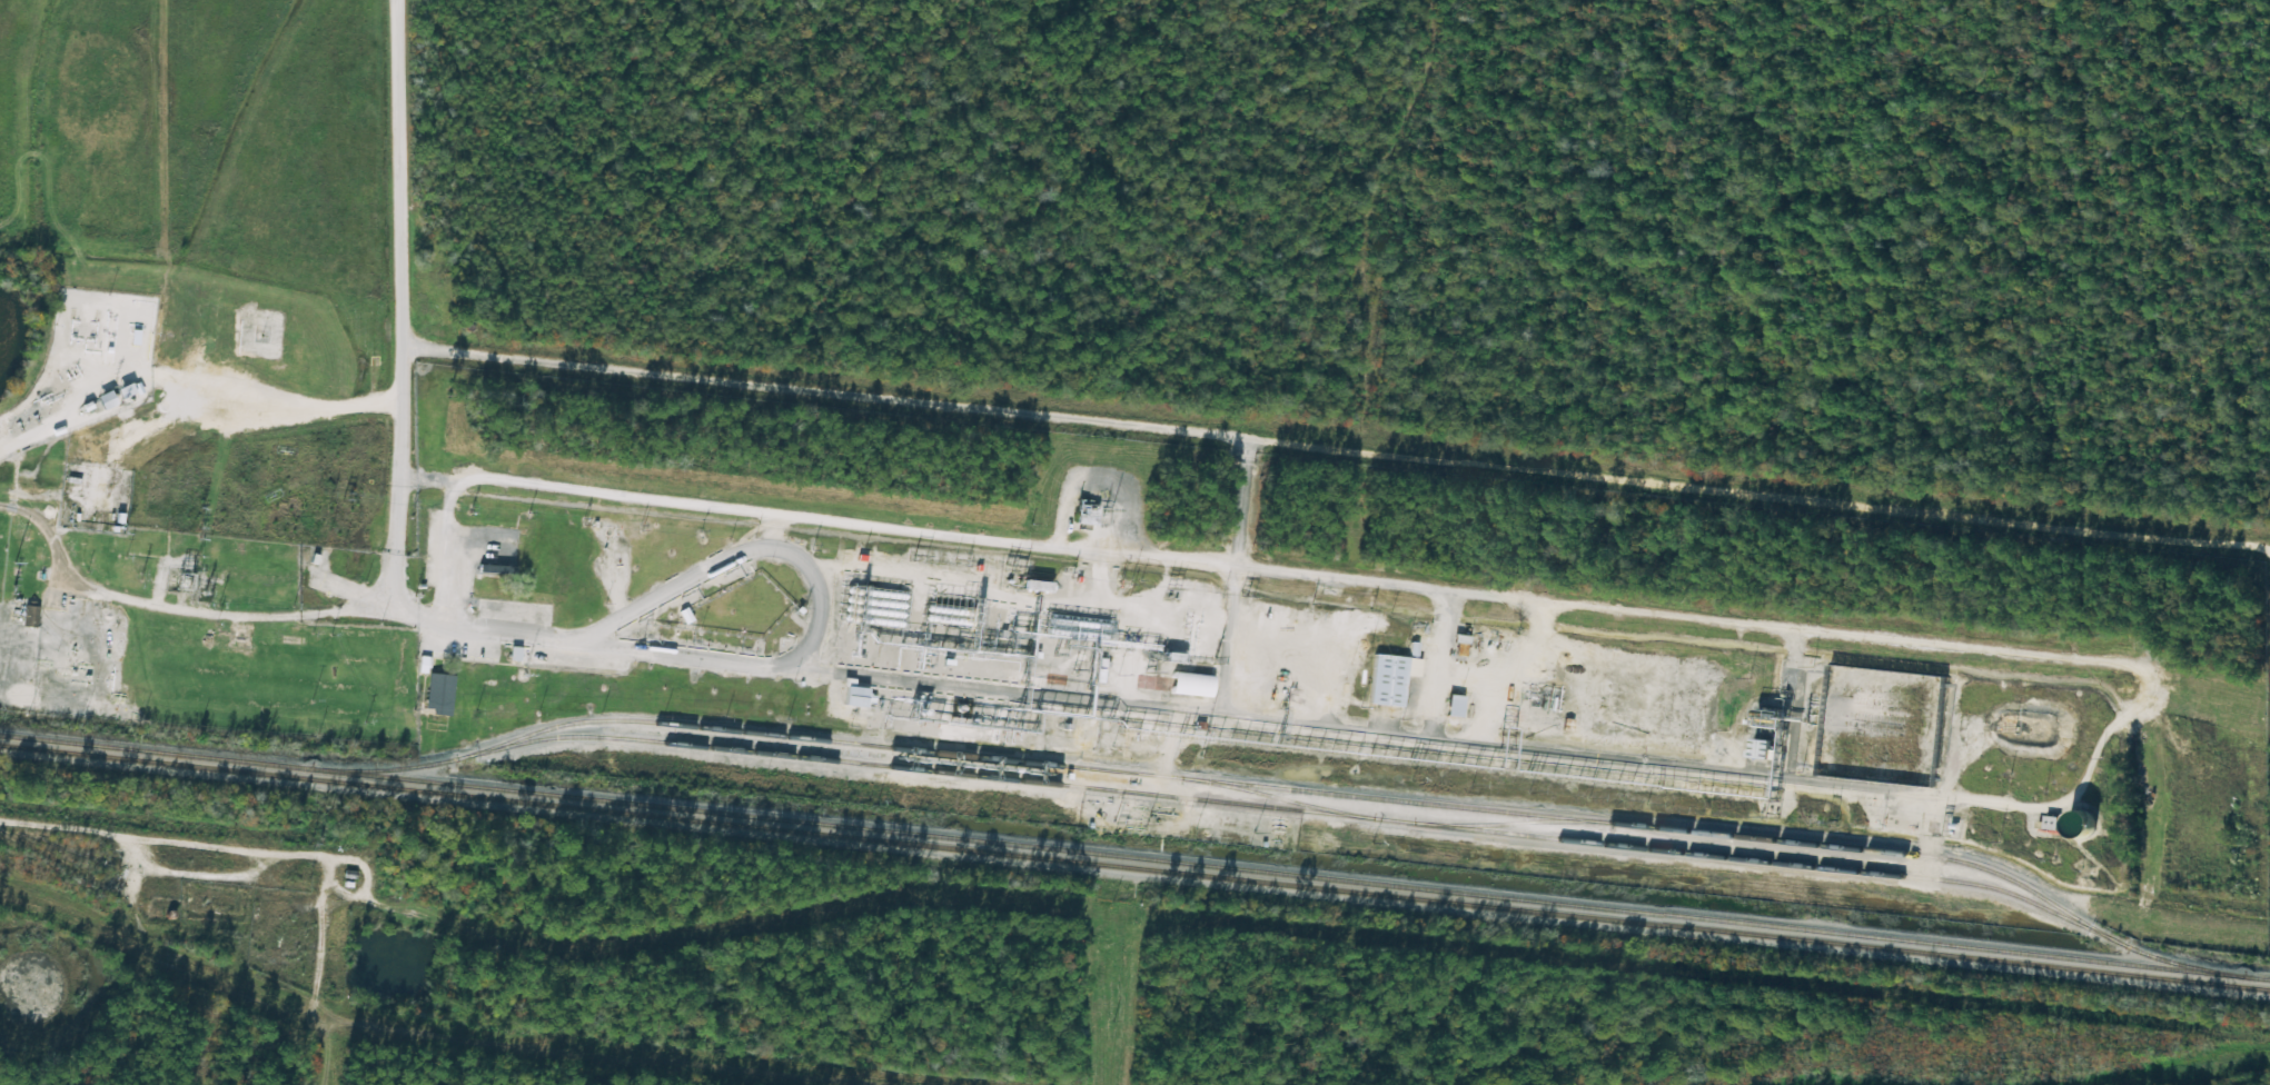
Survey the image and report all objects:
road: (391, 210)
building: (111, 399)
road: (396, 510)
building: (1079, 512)
road: (761, 531)
road: (737, 556)
building: (493, 569)
road: (1338, 577)
road: (176, 597)
building: (31, 616)
road: (1228, 640)
building: (1303, 659)
building: (1382, 681)
building: (1178, 684)
building: (845, 695)
building: (430, 705)
road: (1159, 708)
building: (1969, 736)
building: (1753, 749)
railway: (1143, 774)
railway: (1289, 809)
building: (2070, 826)
road: (158, 839)
railway: (1134, 867)
railway: (1281, 874)

